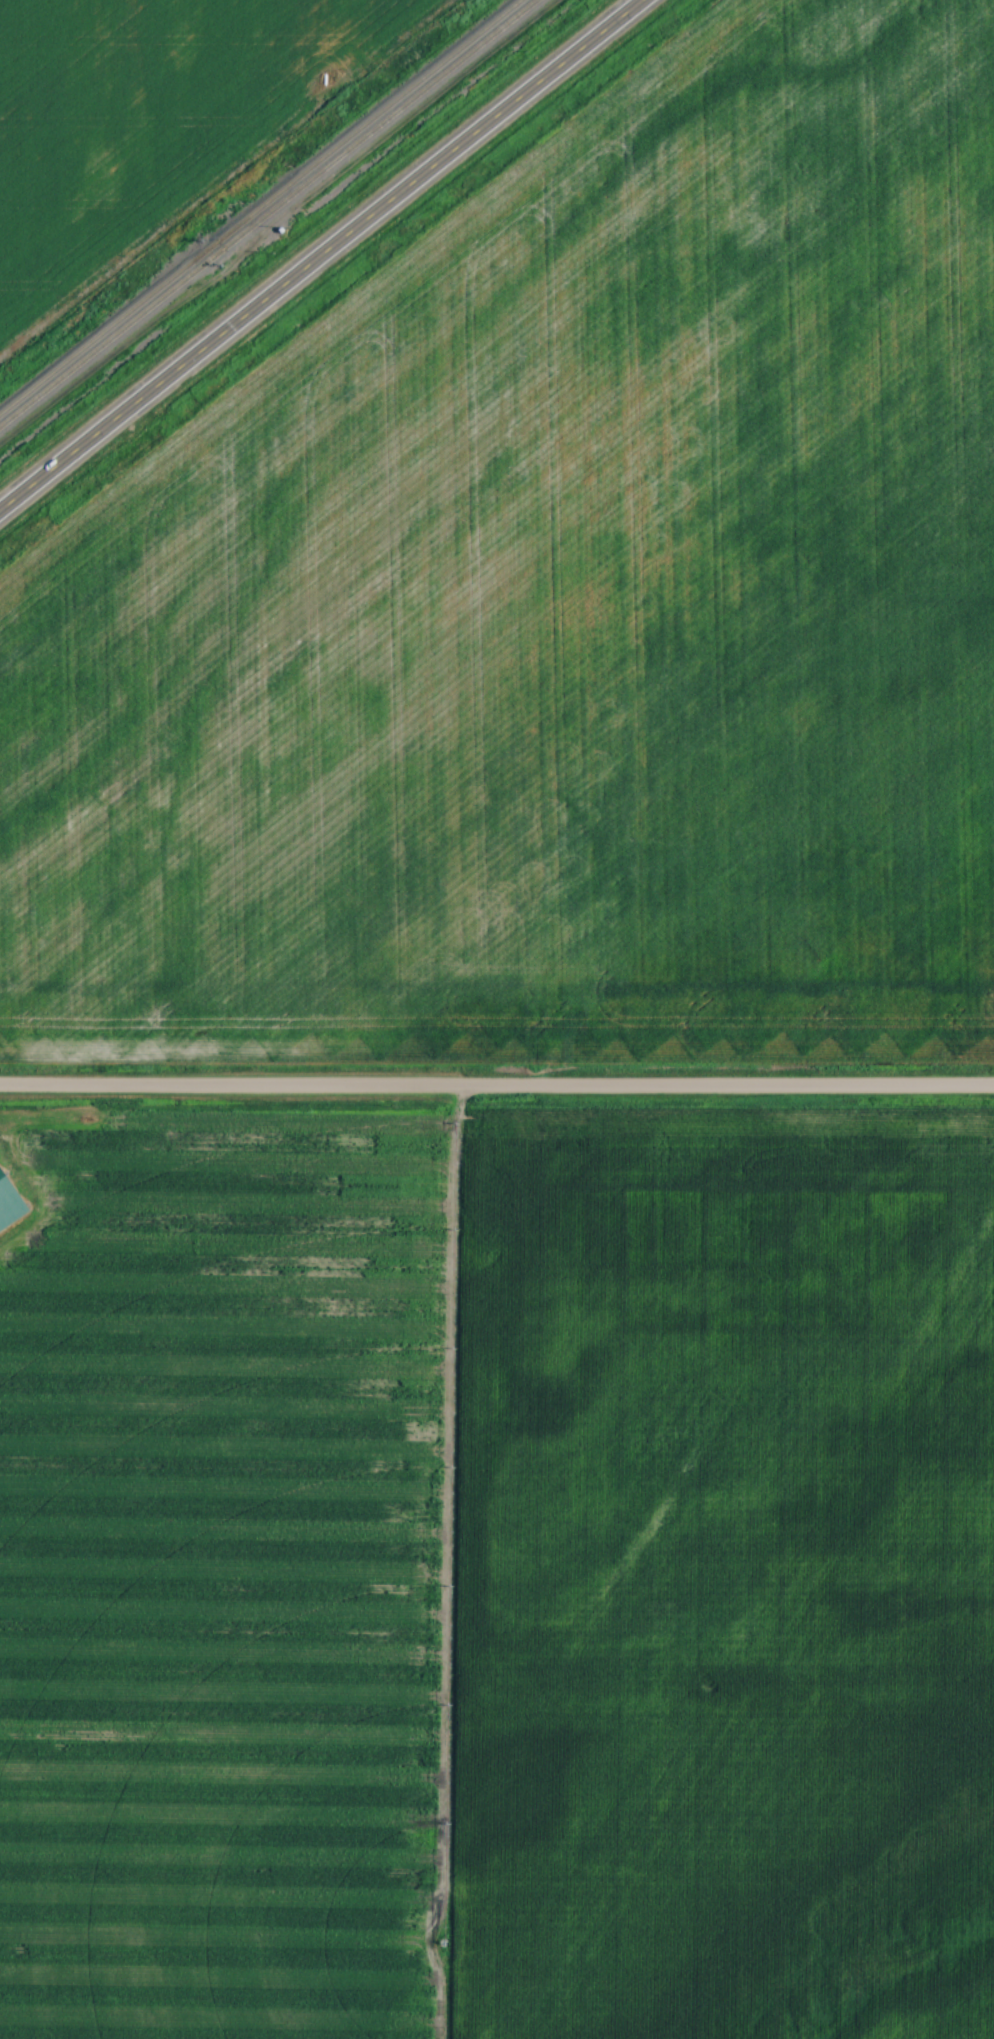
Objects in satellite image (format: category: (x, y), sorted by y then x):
railway: (260, 207)
railway: (268, 213)
road: (323, 255)
road: (497, 1086)

